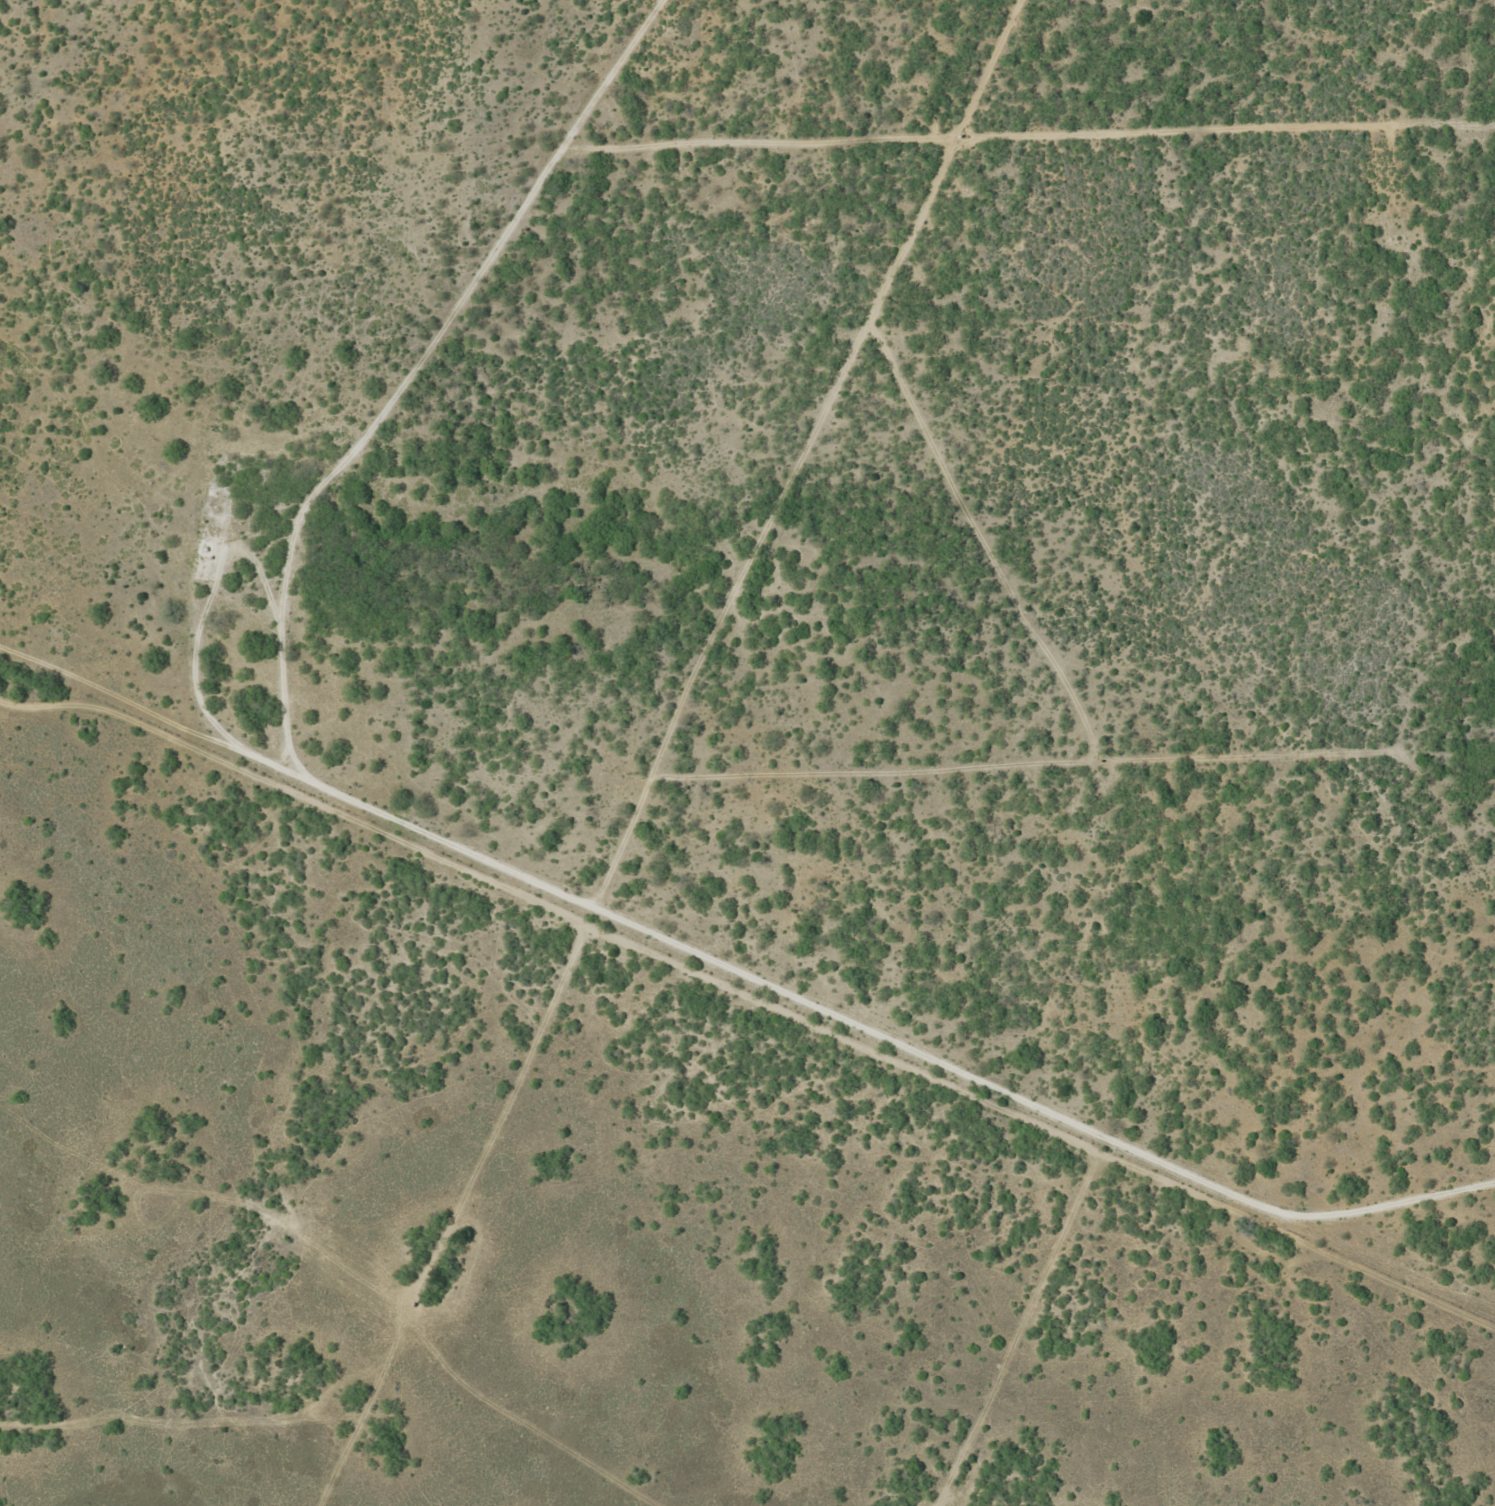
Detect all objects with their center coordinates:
road: (1462, 980)

